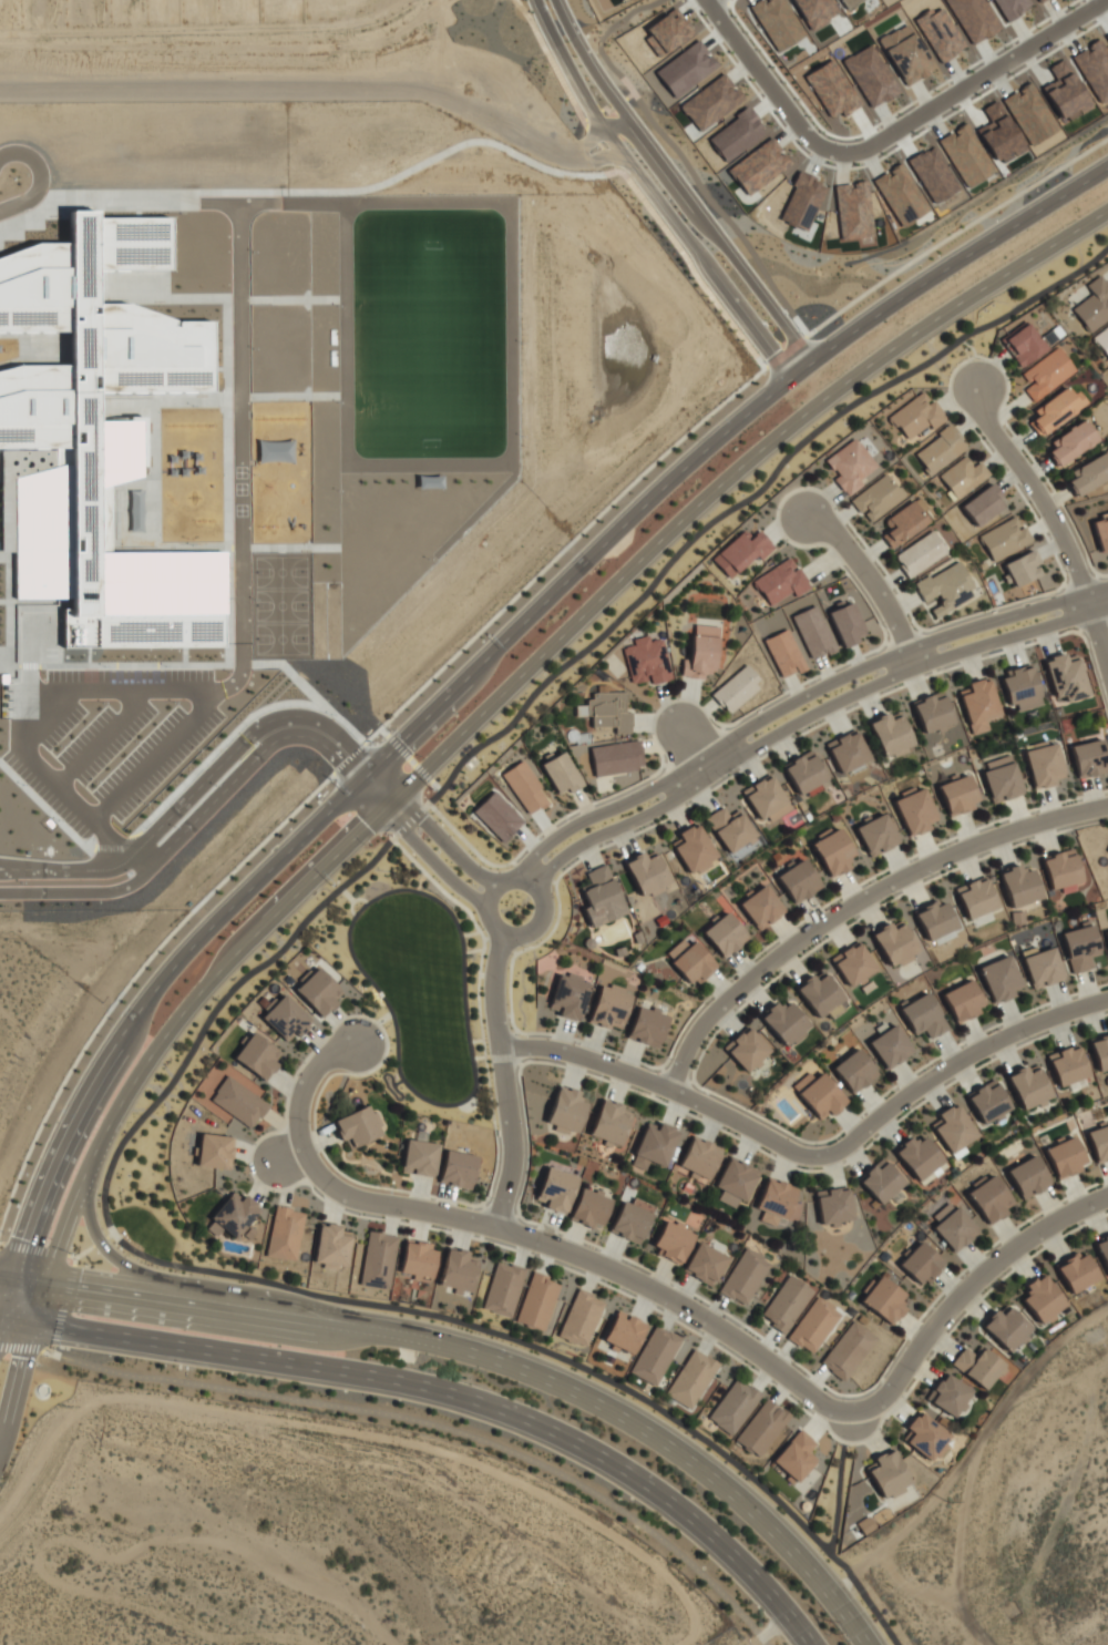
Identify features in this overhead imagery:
building: (622, 0)
building: (848, 2)
building: (814, 11)
building: (777, 22)
road: (768, 79)
road: (971, 84)
road: (30, 160)
road: (20, 200)
road: (688, 200)
road: (664, 211)
road: (955, 234)
building: (1094, 304)
park: (429, 340)
building: (1102, 340)
building: (1023, 345)
building: (1045, 374)
building: (1055, 409)
building: (916, 416)
building: (96, 442)
building: (1069, 443)
building: (940, 450)
building: (850, 464)
building: (1089, 473)
building: (963, 477)
building: (876, 498)
building: (983, 504)
building: (904, 522)
road: (1056, 523)
building: (1101, 531)
building: (1005, 539)
building: (741, 552)
building: (920, 553)
building: (1023, 569)
building: (781, 582)
road: (871, 584)
building: (945, 589)
building: (845, 624)
building: (813, 632)
road: (491, 652)
building: (700, 653)
building: (784, 653)
building: (647, 661)
building: (1066, 677)
road: (514, 680)
building: (1022, 688)
building: (736, 689)
road: (798, 701)
building: (978, 704)
building: (607, 711)
building: (932, 713)
road: (811, 716)
building: (890, 734)
road: (694, 746)
building: (847, 752)
building: (616, 757)
building: (1089, 758)
road: (349, 760)
building: (1044, 765)
building: (804, 773)
building: (561, 774)
building: (1002, 778)
building: (525, 787)
building: (958, 795)
building: (766, 799)
building: (914, 810)
building: (497, 816)
road: (187, 822)
road: (430, 826)
building: (730, 828)
building: (876, 835)
road: (418, 842)
building: (693, 849)
building: (833, 852)
building: (1060, 869)
building: (646, 872)
building: (798, 881)
building: (1019, 886)
building: (602, 897)
building: (975, 897)
road: (548, 902)
building: (761, 907)
road: (861, 907)
building: (934, 920)
building: (725, 934)
building: (1106, 936)
building: (894, 942)
building: (1080, 948)
building: (690, 960)
building: (852, 963)
building: (1043, 968)
building: (999, 979)
building: (318, 992)
building: (820, 994)
building: (570, 997)
building: (962, 1001)
road: (217, 1005)
building: (609, 1007)
building: (923, 1016)
building: (286, 1018)
building: (784, 1022)
building: (647, 1026)
building: (890, 1046)
building: (746, 1050)
building: (1100, 1053)
building: (257, 1055)
building: (1067, 1065)
building: (854, 1071)
road: (938, 1074)
road: (646, 1079)
road: (504, 1083)
building: (1028, 1086)
building: (819, 1094)
building: (238, 1102)
building: (987, 1102)
building: (565, 1111)
building: (611, 1122)
building: (358, 1127)
building: (953, 1127)
building: (1099, 1143)
building: (215, 1151)
building: (420, 1157)
building: (1065, 1157)
building: (699, 1158)
building: (920, 1158)
building: (456, 1169)
building: (1028, 1177)
building: (881, 1181)
building: (735, 1182)
building: (556, 1189)
building: (988, 1198)
building: (833, 1205)
building: (589, 1207)
building: (233, 1215)
building: (630, 1220)
building: (953, 1226)
building: (285, 1233)
road: (521, 1238)
road: (99, 1242)
building: (673, 1242)
building: (331, 1247)
building: (1102, 1250)
road: (59, 1254)
building: (378, 1259)
building: (417, 1259)
road: (8, 1261)
building: (704, 1263)
building: (921, 1263)
traffic signals: (17, 1264)
traffic signals: (52, 1268)
building: (458, 1270)
building: (1077, 1273)
building: (745, 1276)
building: (503, 1289)
road: (964, 1290)
road: (9, 1294)
road: (45, 1298)
building: (1042, 1299)
building: (884, 1300)
building: (537, 1301)
building: (786, 1302)
building: (581, 1318)
road: (1, 1322)
traffic signals: (2, 1324)
building: (813, 1325)
building: (1006, 1327)
road: (1, 1328)
traffic signals: (39, 1328)
building: (624, 1332)
building: (848, 1350)
building: (655, 1355)
road: (490, 1357)
building: (977, 1366)
building: (691, 1378)
road: (913, 1383)
road: (20, 1390)
road: (447, 1393)
building: (950, 1394)
building: (733, 1406)
road: (417, 1421)
building: (761, 1427)
building: (925, 1437)
building: (796, 1455)
building: (888, 1474)
power tower: (834, 1628)

